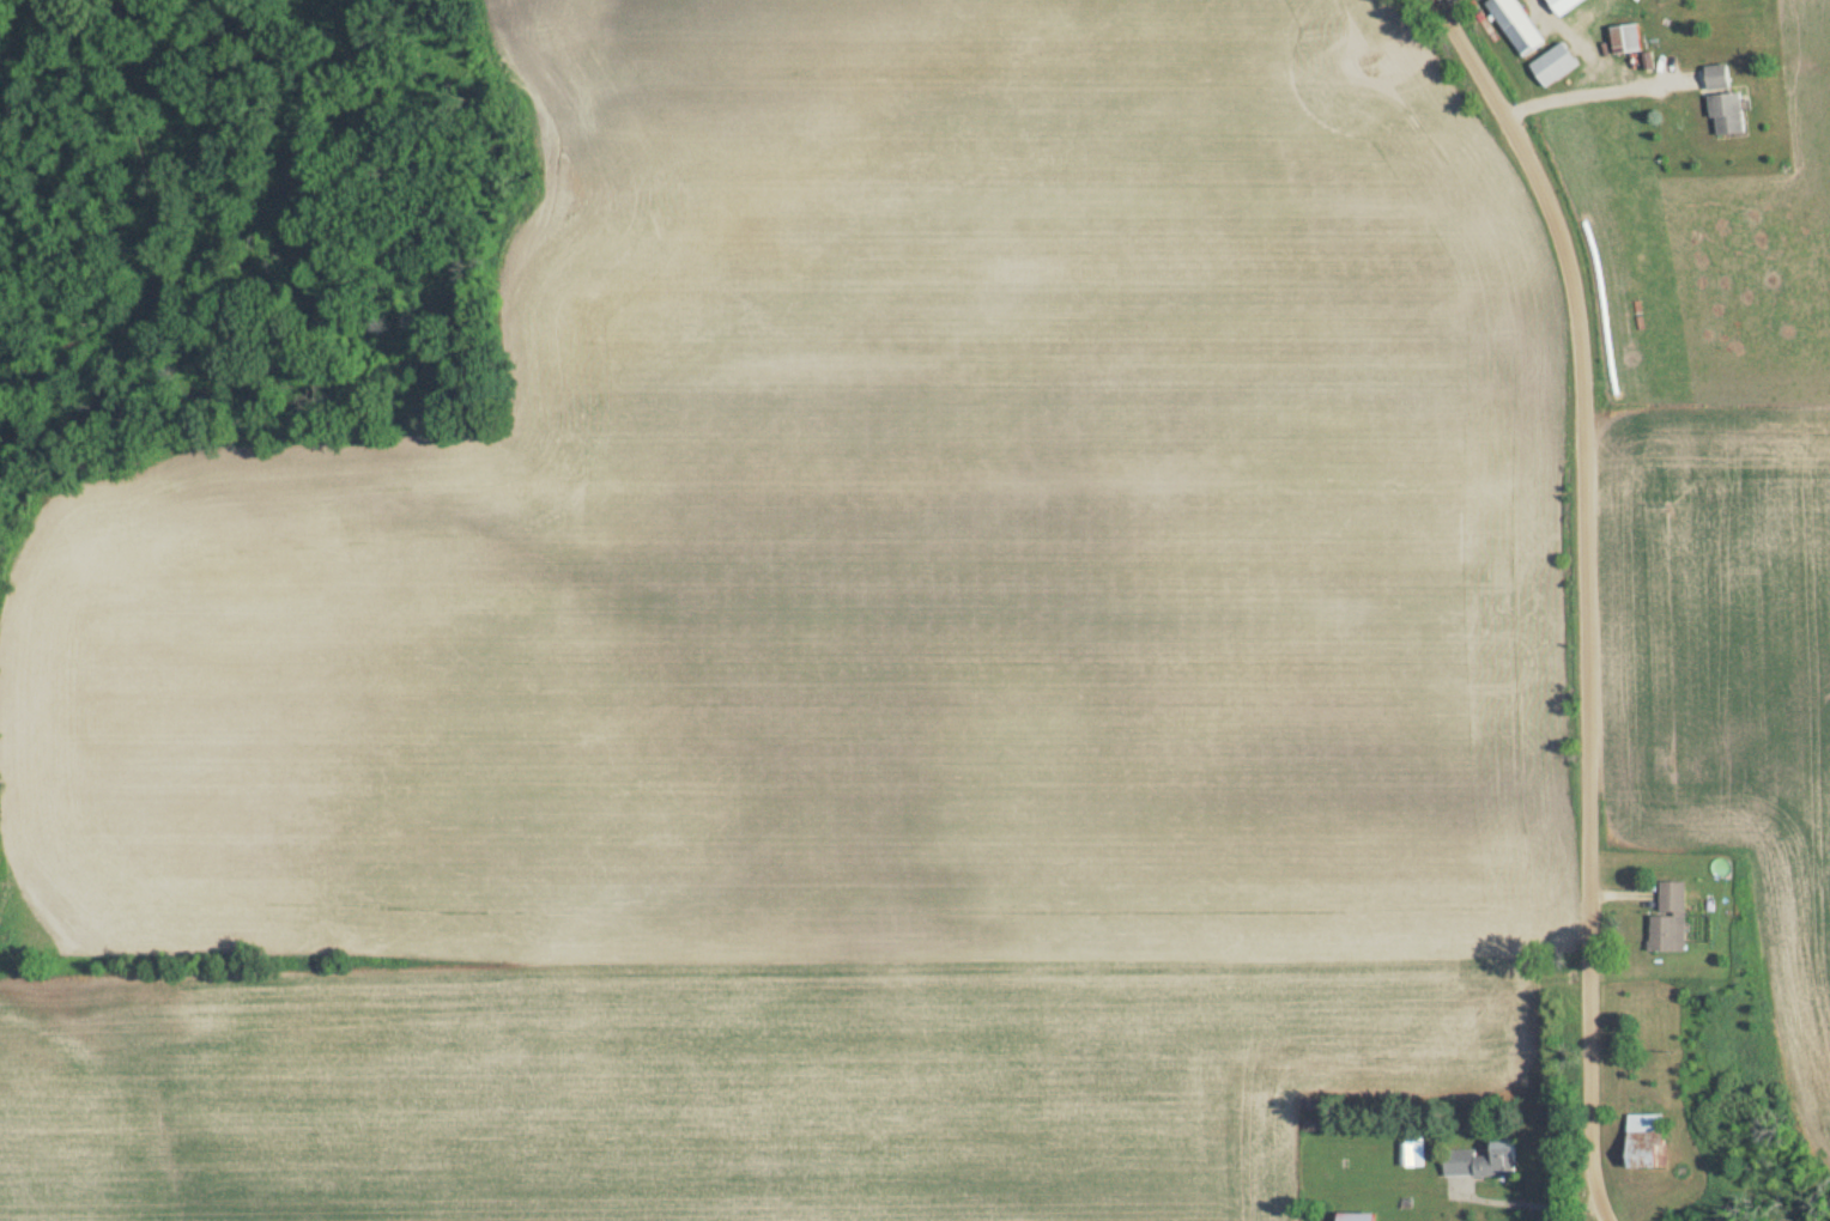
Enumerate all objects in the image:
building: (1517, 26)
building: (1628, 40)
building: (1556, 66)
building: (1722, 78)
road: (1595, 97)
building: (1731, 114)
road: (1583, 594)
building: (1673, 921)
building: (1649, 1143)
building: (1486, 1164)
road: (1521, 1201)

